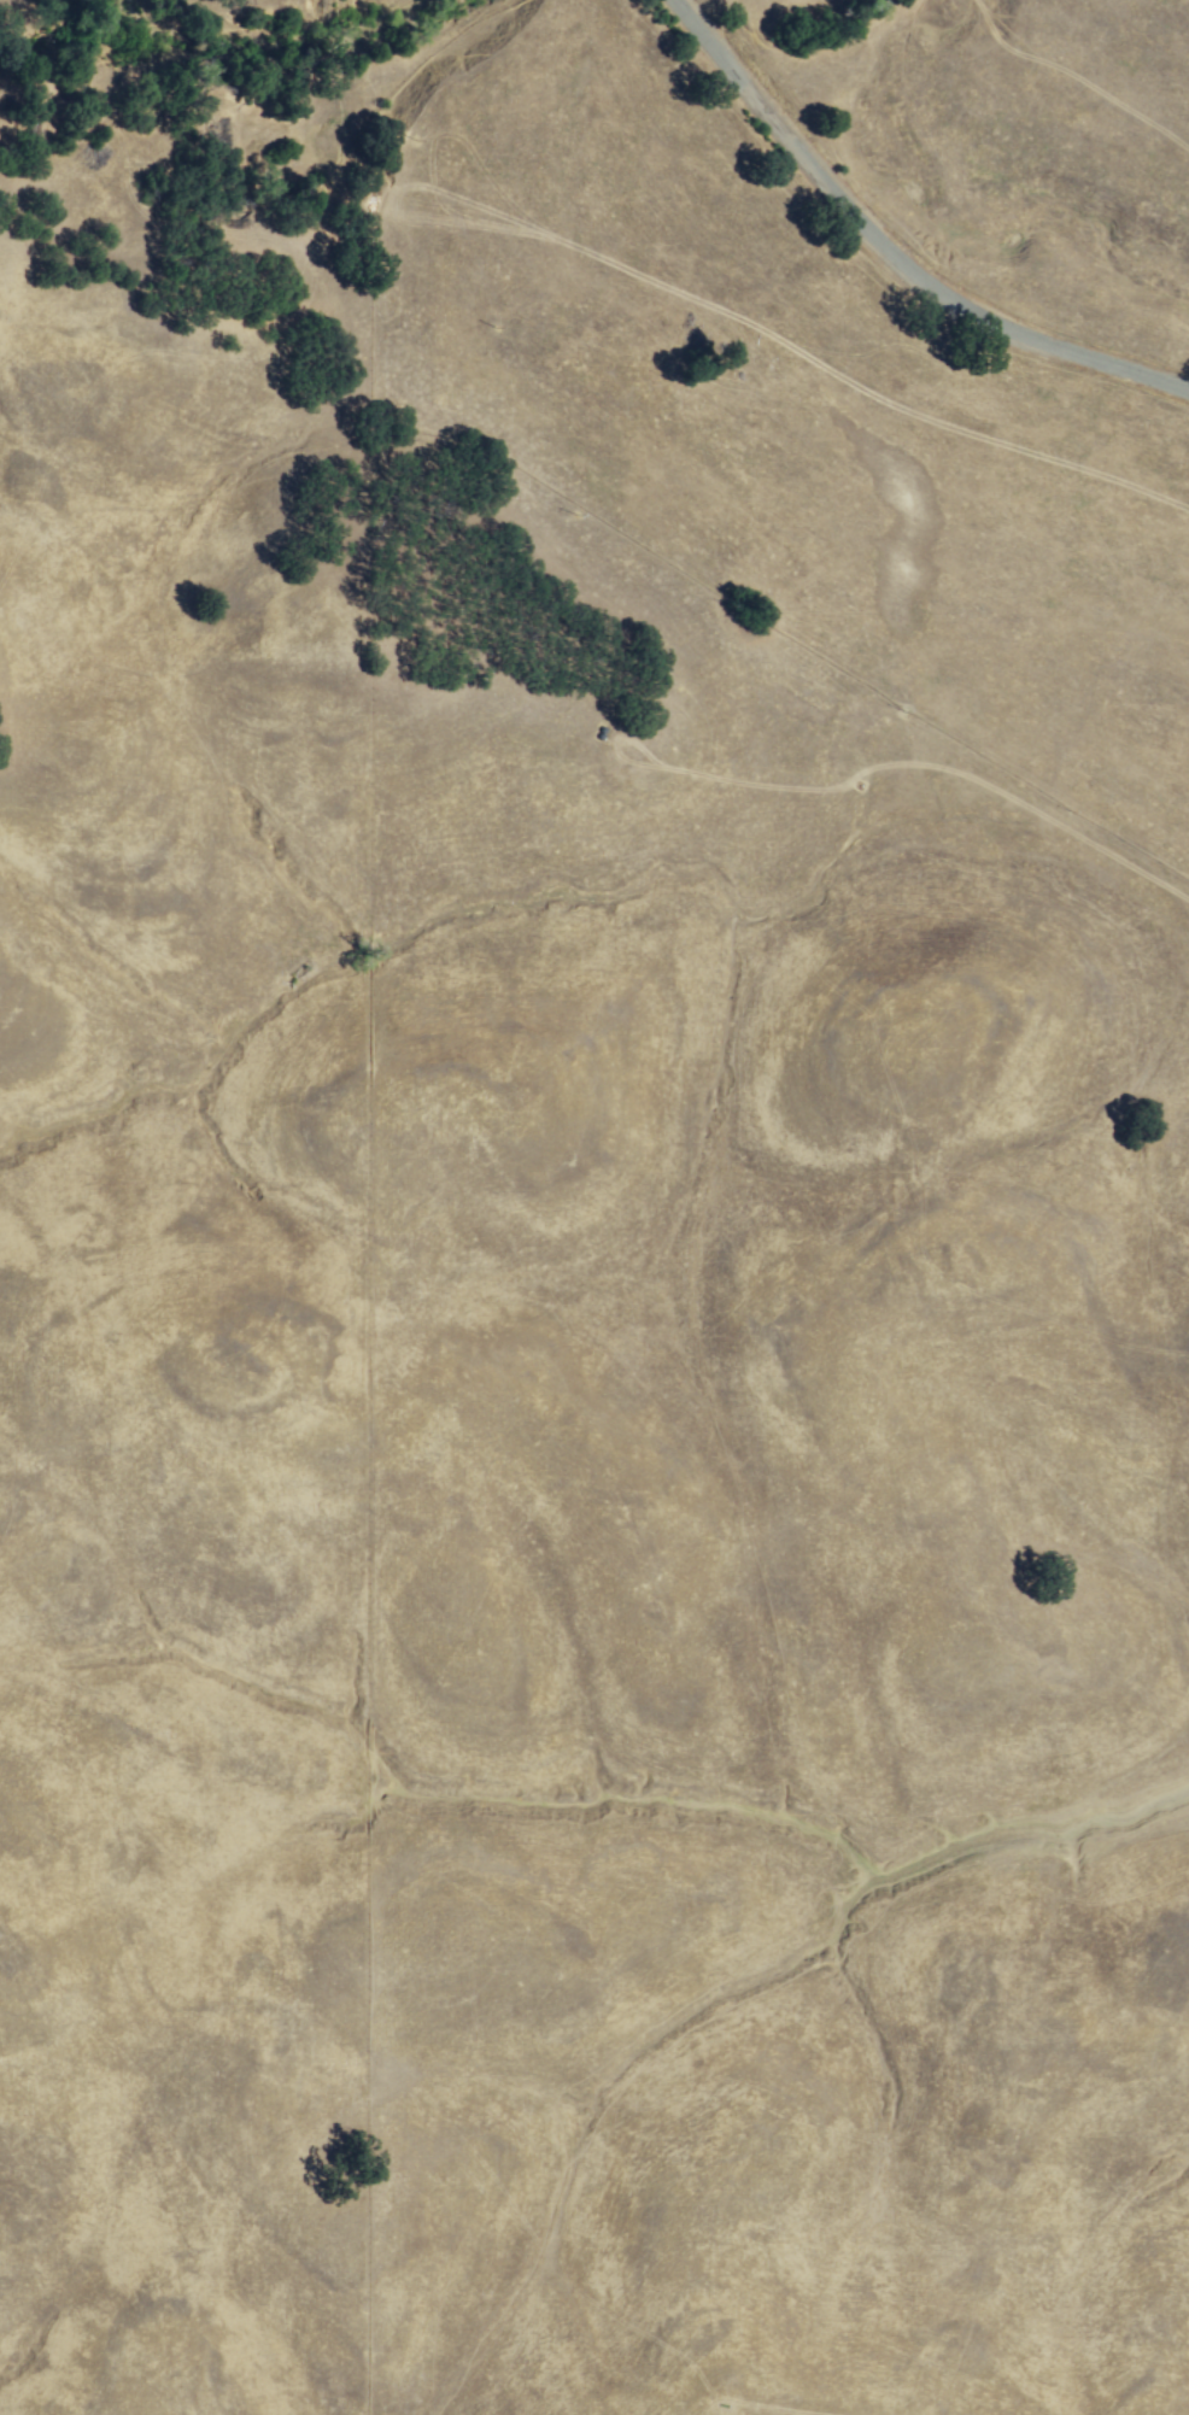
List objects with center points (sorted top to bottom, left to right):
road: (892, 252)

